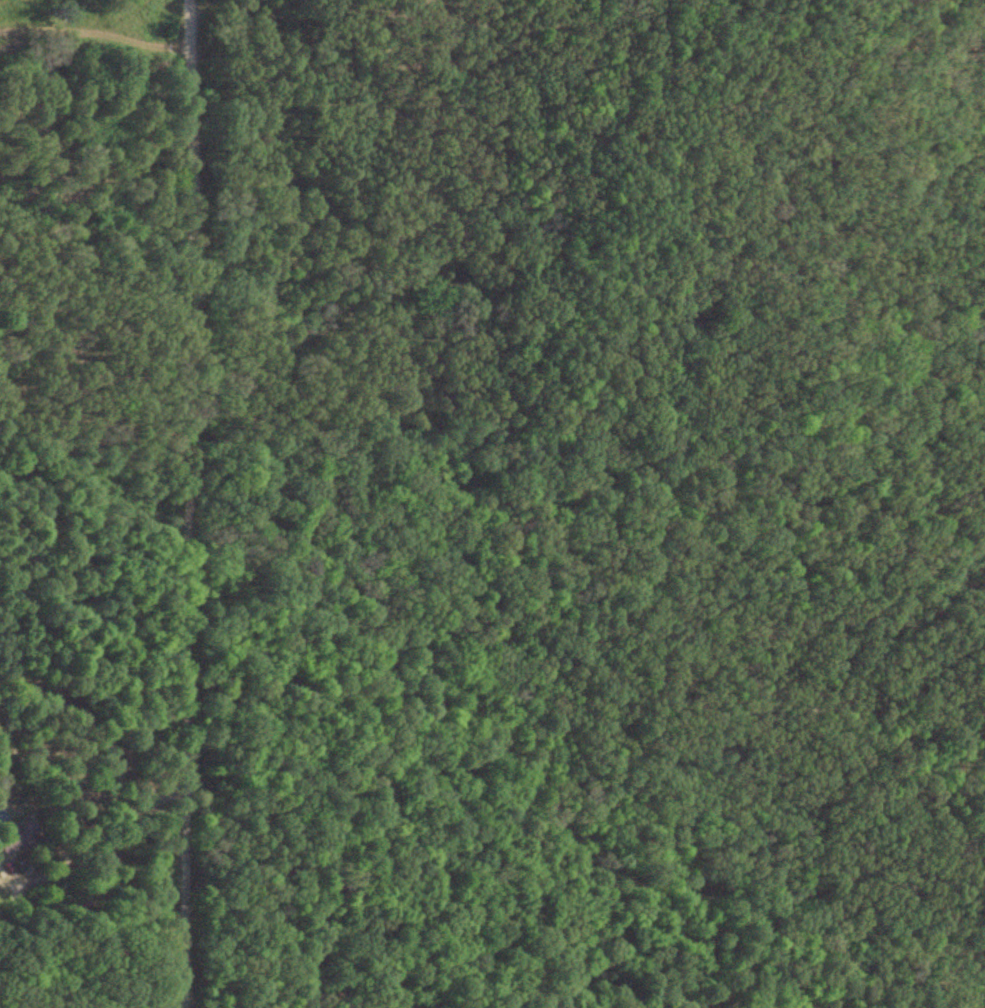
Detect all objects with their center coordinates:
road: (191, 504)

